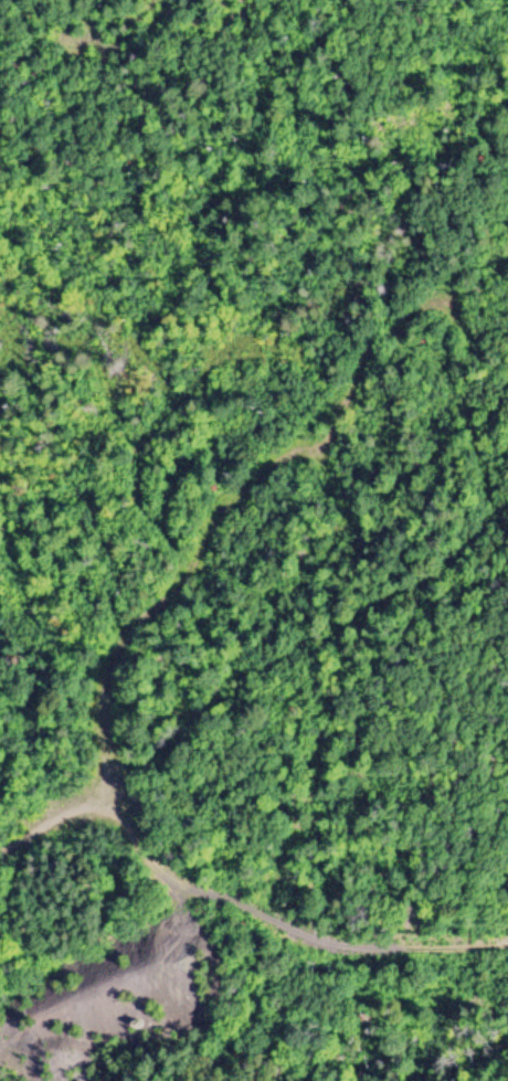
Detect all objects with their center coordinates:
road: (60, 820)
road: (334, 940)

